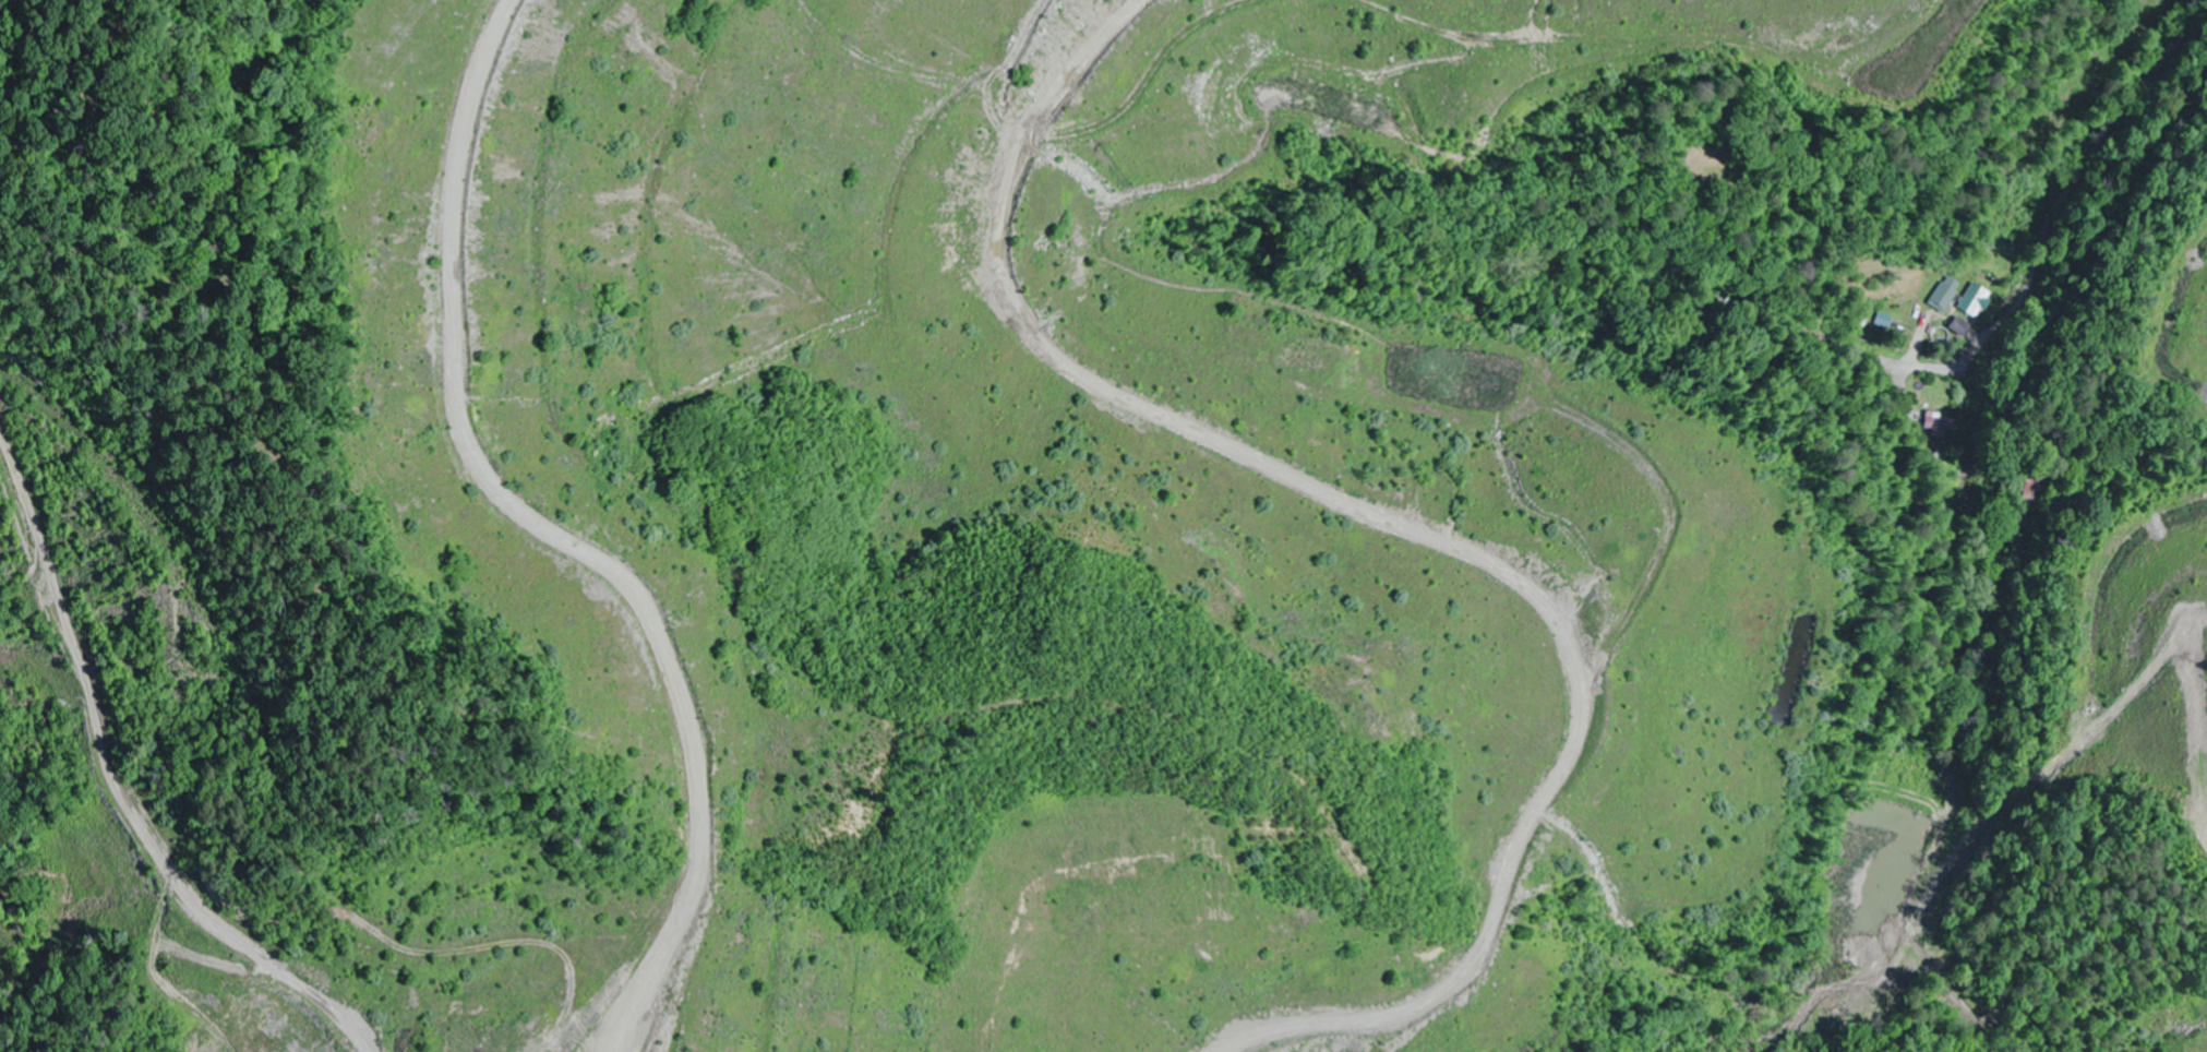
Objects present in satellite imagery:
road: (2075, 228)
building: (1944, 294)
building: (1974, 300)
building: (1959, 326)
building: (1939, 423)
building: (2028, 489)

